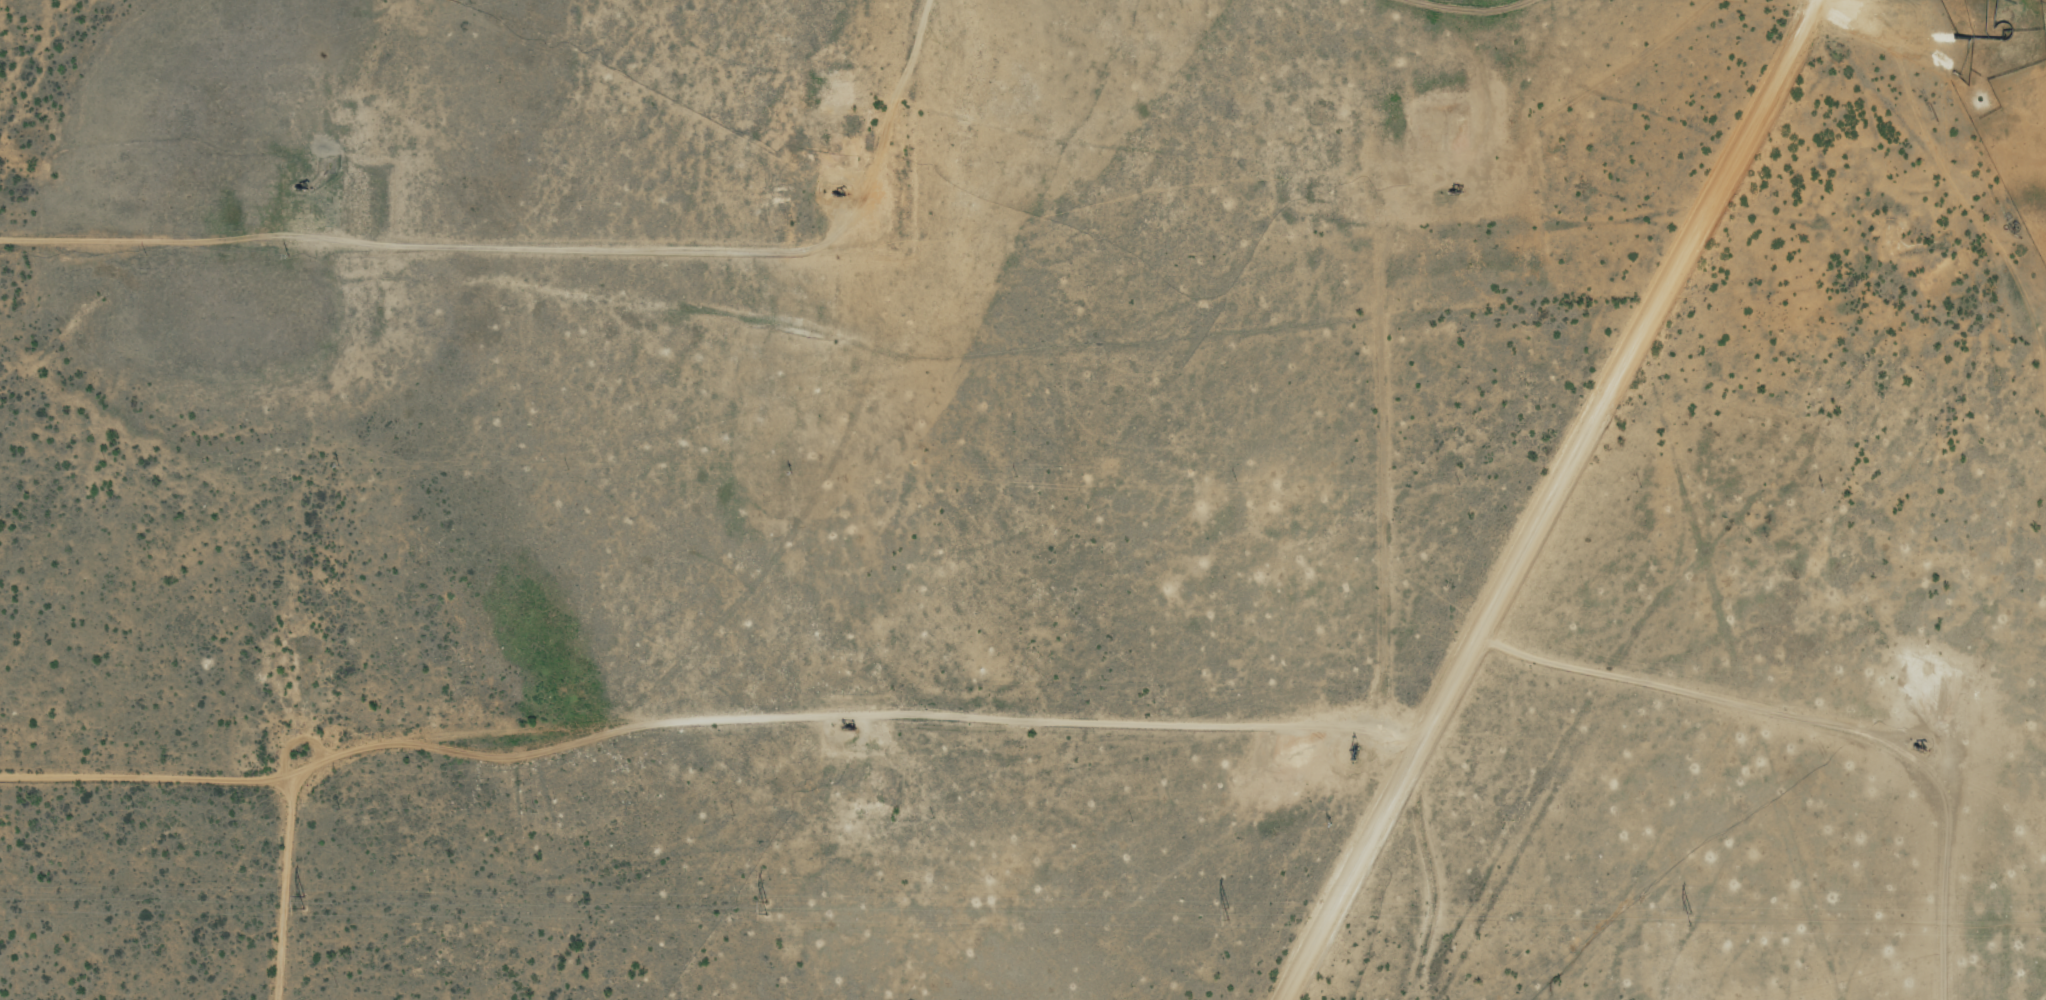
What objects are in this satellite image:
road: (1933, 146)
road: (1575, 502)
power tower: (303, 900)
power tower: (765, 905)
power tower: (1228, 911)
power tower: (1690, 917)

